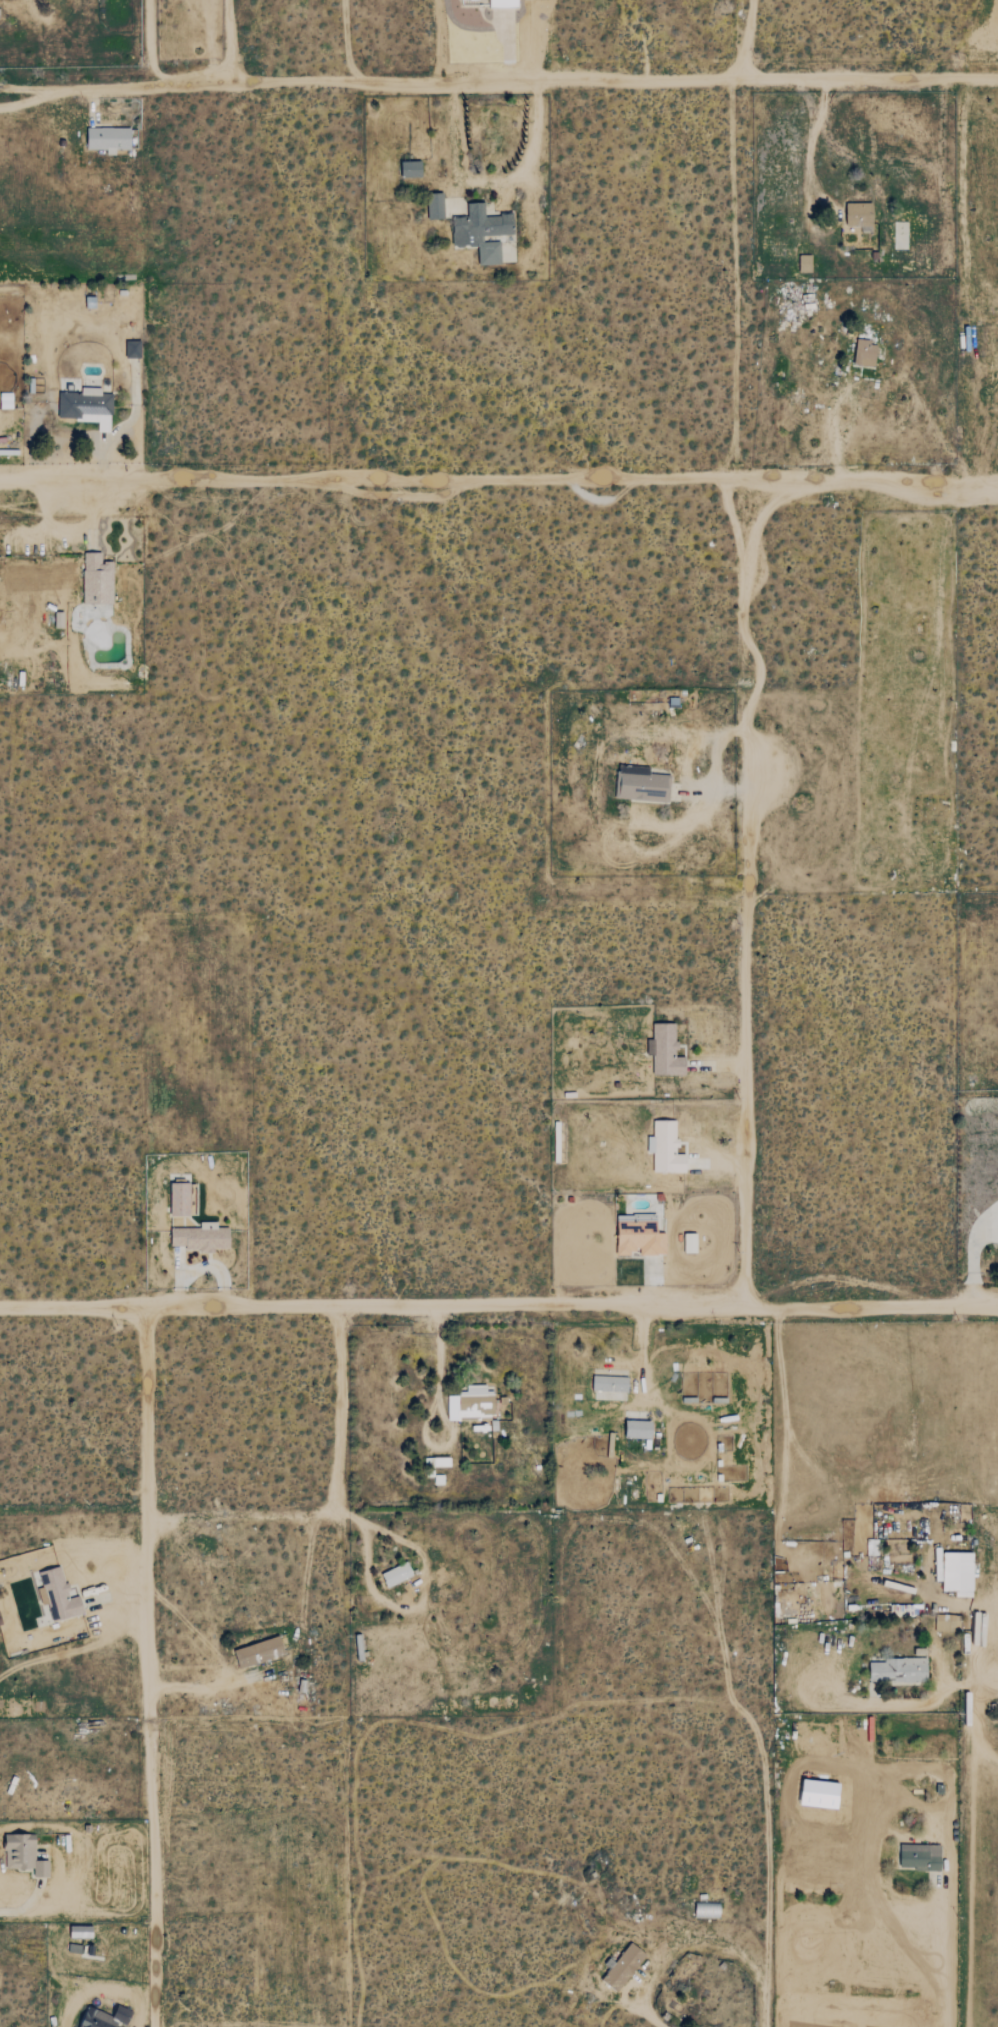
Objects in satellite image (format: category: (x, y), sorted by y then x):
building: (505, 4)
road: (746, 39)
road: (229, 42)
road: (148, 45)
road: (507, 47)
road: (499, 82)
building: (109, 138)
road: (811, 139)
building: (412, 169)
road: (492, 181)
building: (436, 206)
building: (860, 215)
building: (483, 232)
building: (133, 349)
building: (866, 353)
road: (58, 383)
building: (6, 400)
building: (88, 407)
road: (831, 427)
road: (499, 476)
building: (98, 580)
road: (714, 762)
building: (642, 784)
road: (748, 892)
building: (666, 1052)
road: (725, 1064)
building: (667, 1148)
road: (721, 1162)
building: (181, 1199)
building: (201, 1238)
building: (641, 1238)
building: (690, 1243)
road: (498, 1308)
building: (611, 1383)
building: (473, 1403)
building: (640, 1429)
building: (439, 1479)
road: (337, 1504)
building: (872, 1547)
building: (960, 1572)
building: (398, 1574)
road: (422, 1594)
building: (59, 1595)
building: (260, 1652)
road: (287, 1655)
road: (149, 1666)
building: (899, 1669)
road: (988, 1675)
building: (23, 1853)
building: (921, 1857)
road: (766, 1877)
road: (23, 1907)
road: (948, 1921)
building: (82, 1932)
road: (675, 1944)
building: (625, 1967)

